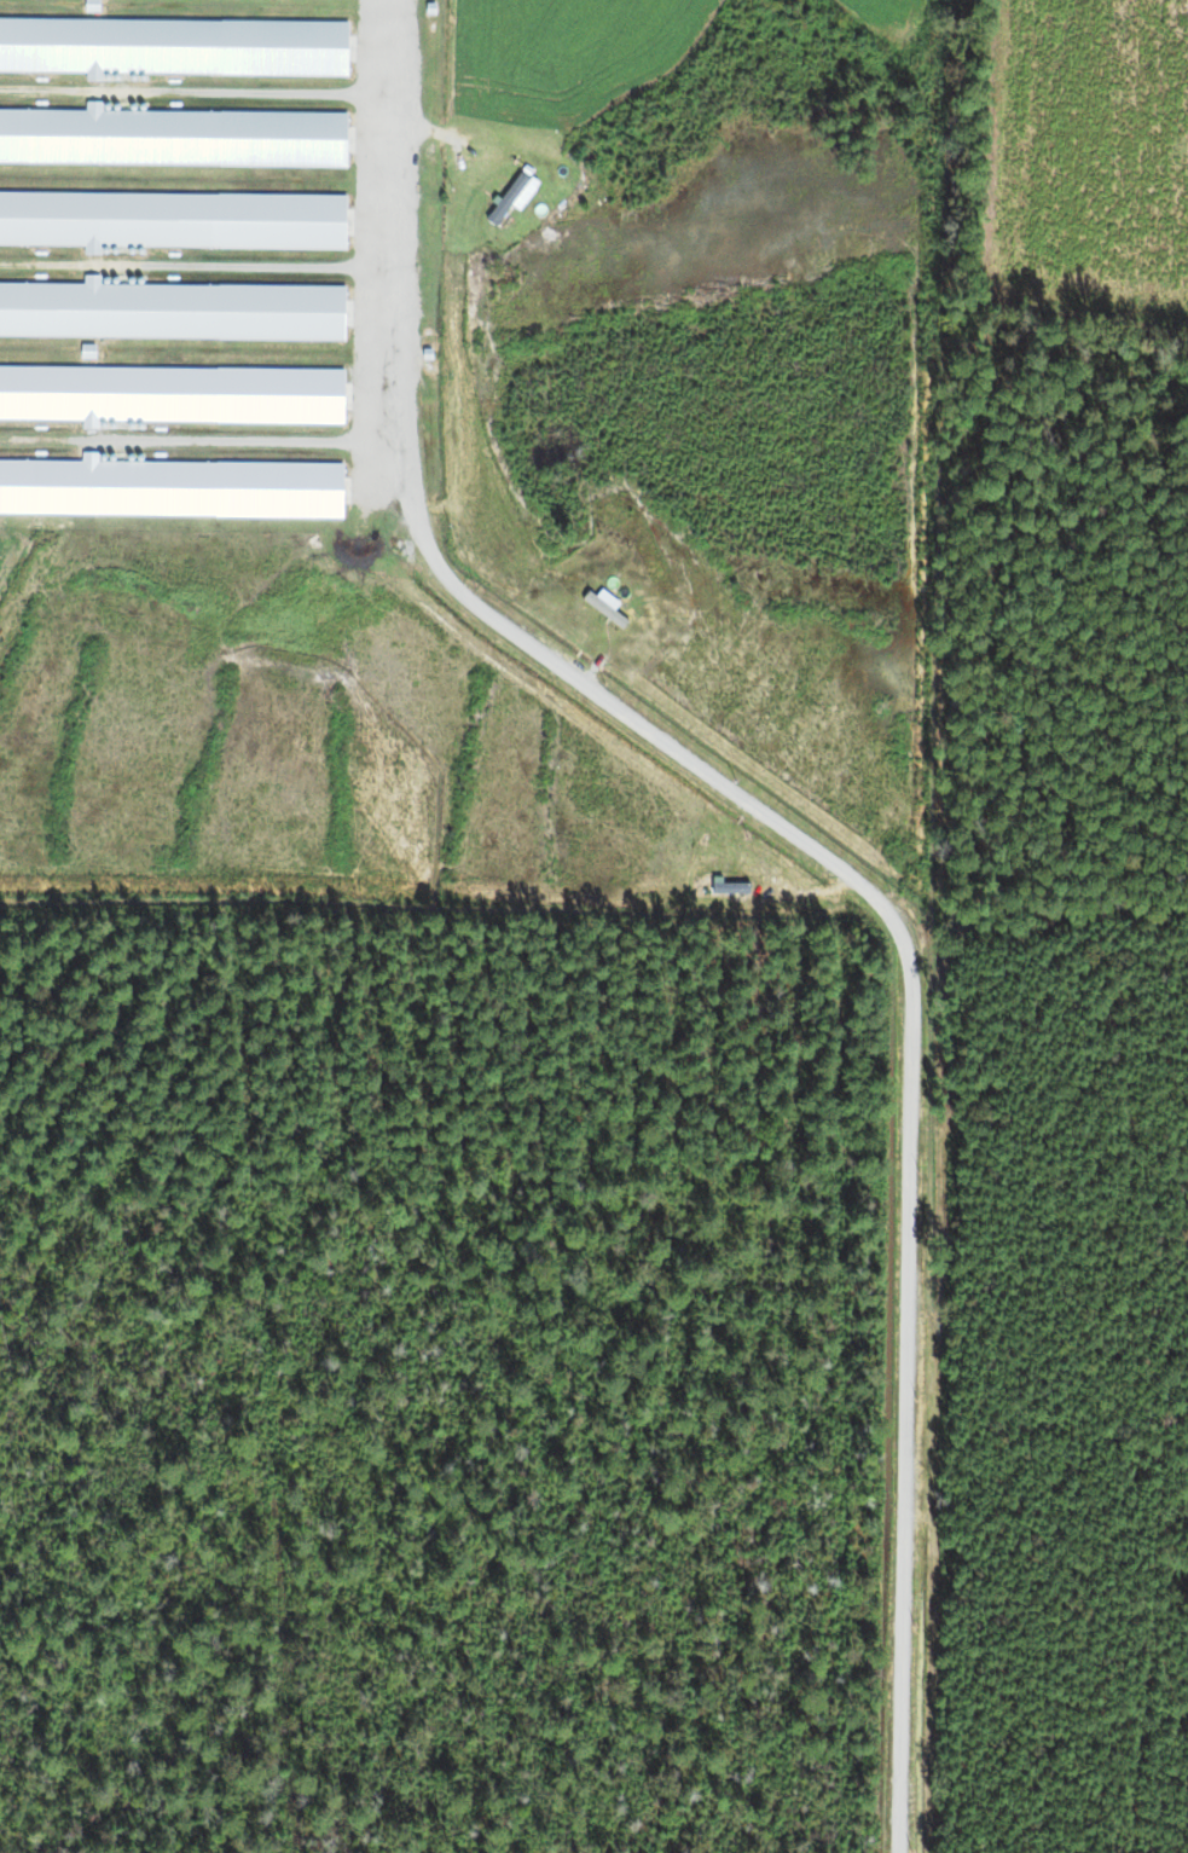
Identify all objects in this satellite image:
building: (174, 48)
road: (201, 91)
building: (173, 139)
building: (509, 199)
building: (173, 221)
road: (197, 270)
building: (172, 313)
road: (202, 436)
road: (813, 855)

